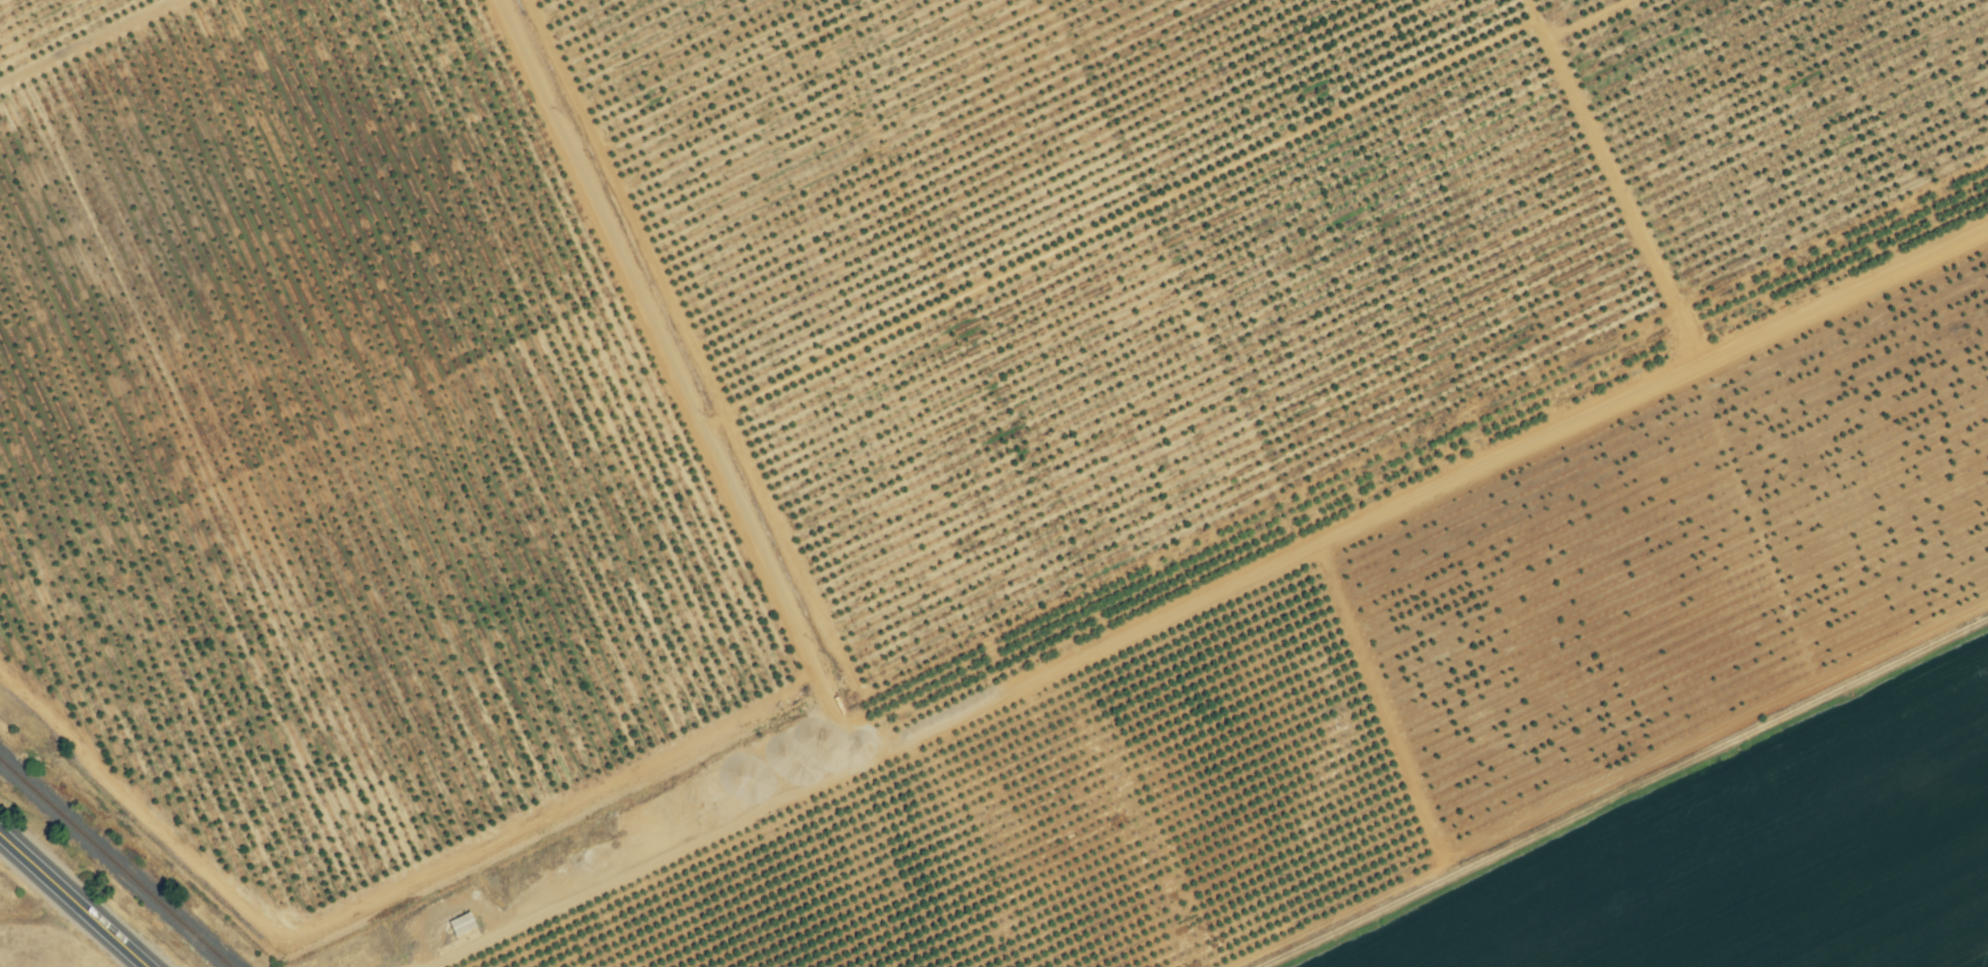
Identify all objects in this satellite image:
road: (89, 42)
road: (1587, 191)
road: (674, 367)
road: (1413, 499)
road: (790, 746)
road: (918, 820)
railway: (115, 864)
road: (640, 865)
road: (73, 901)

